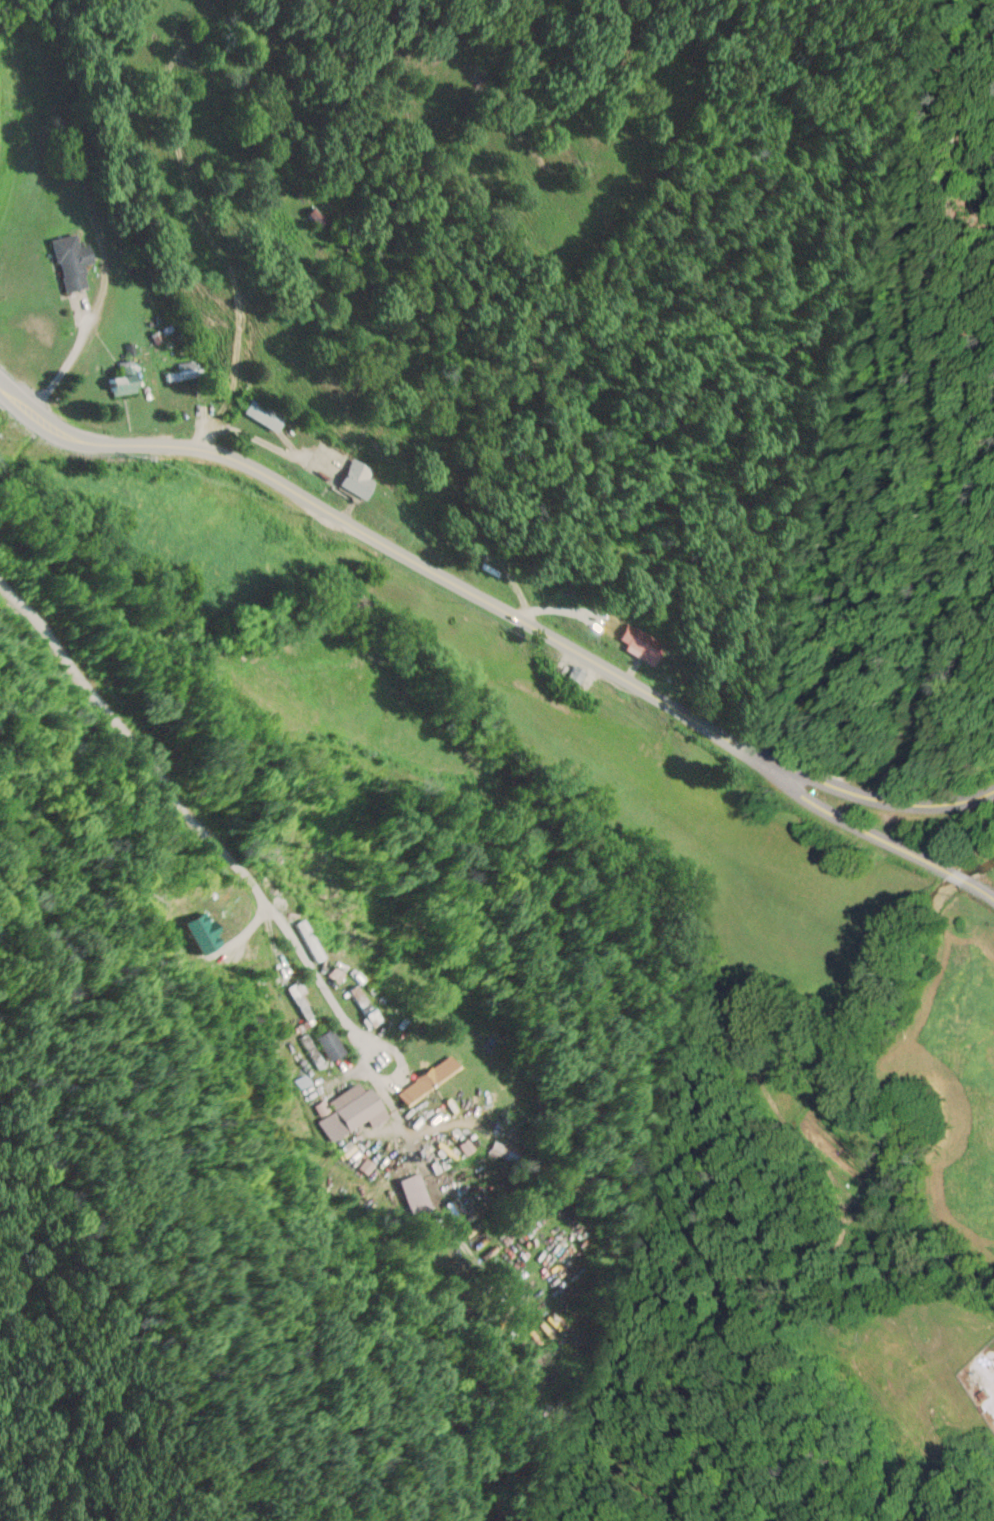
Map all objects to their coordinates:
building: (313, 214)
building: (70, 261)
road: (79, 343)
building: (187, 370)
building: (121, 380)
building: (260, 413)
building: (353, 479)
road: (495, 600)
building: (633, 644)
road: (946, 867)
building: (336, 973)
building: (362, 1003)
building: (322, 1045)
building: (425, 1078)
building: (348, 1110)
building: (416, 1194)

